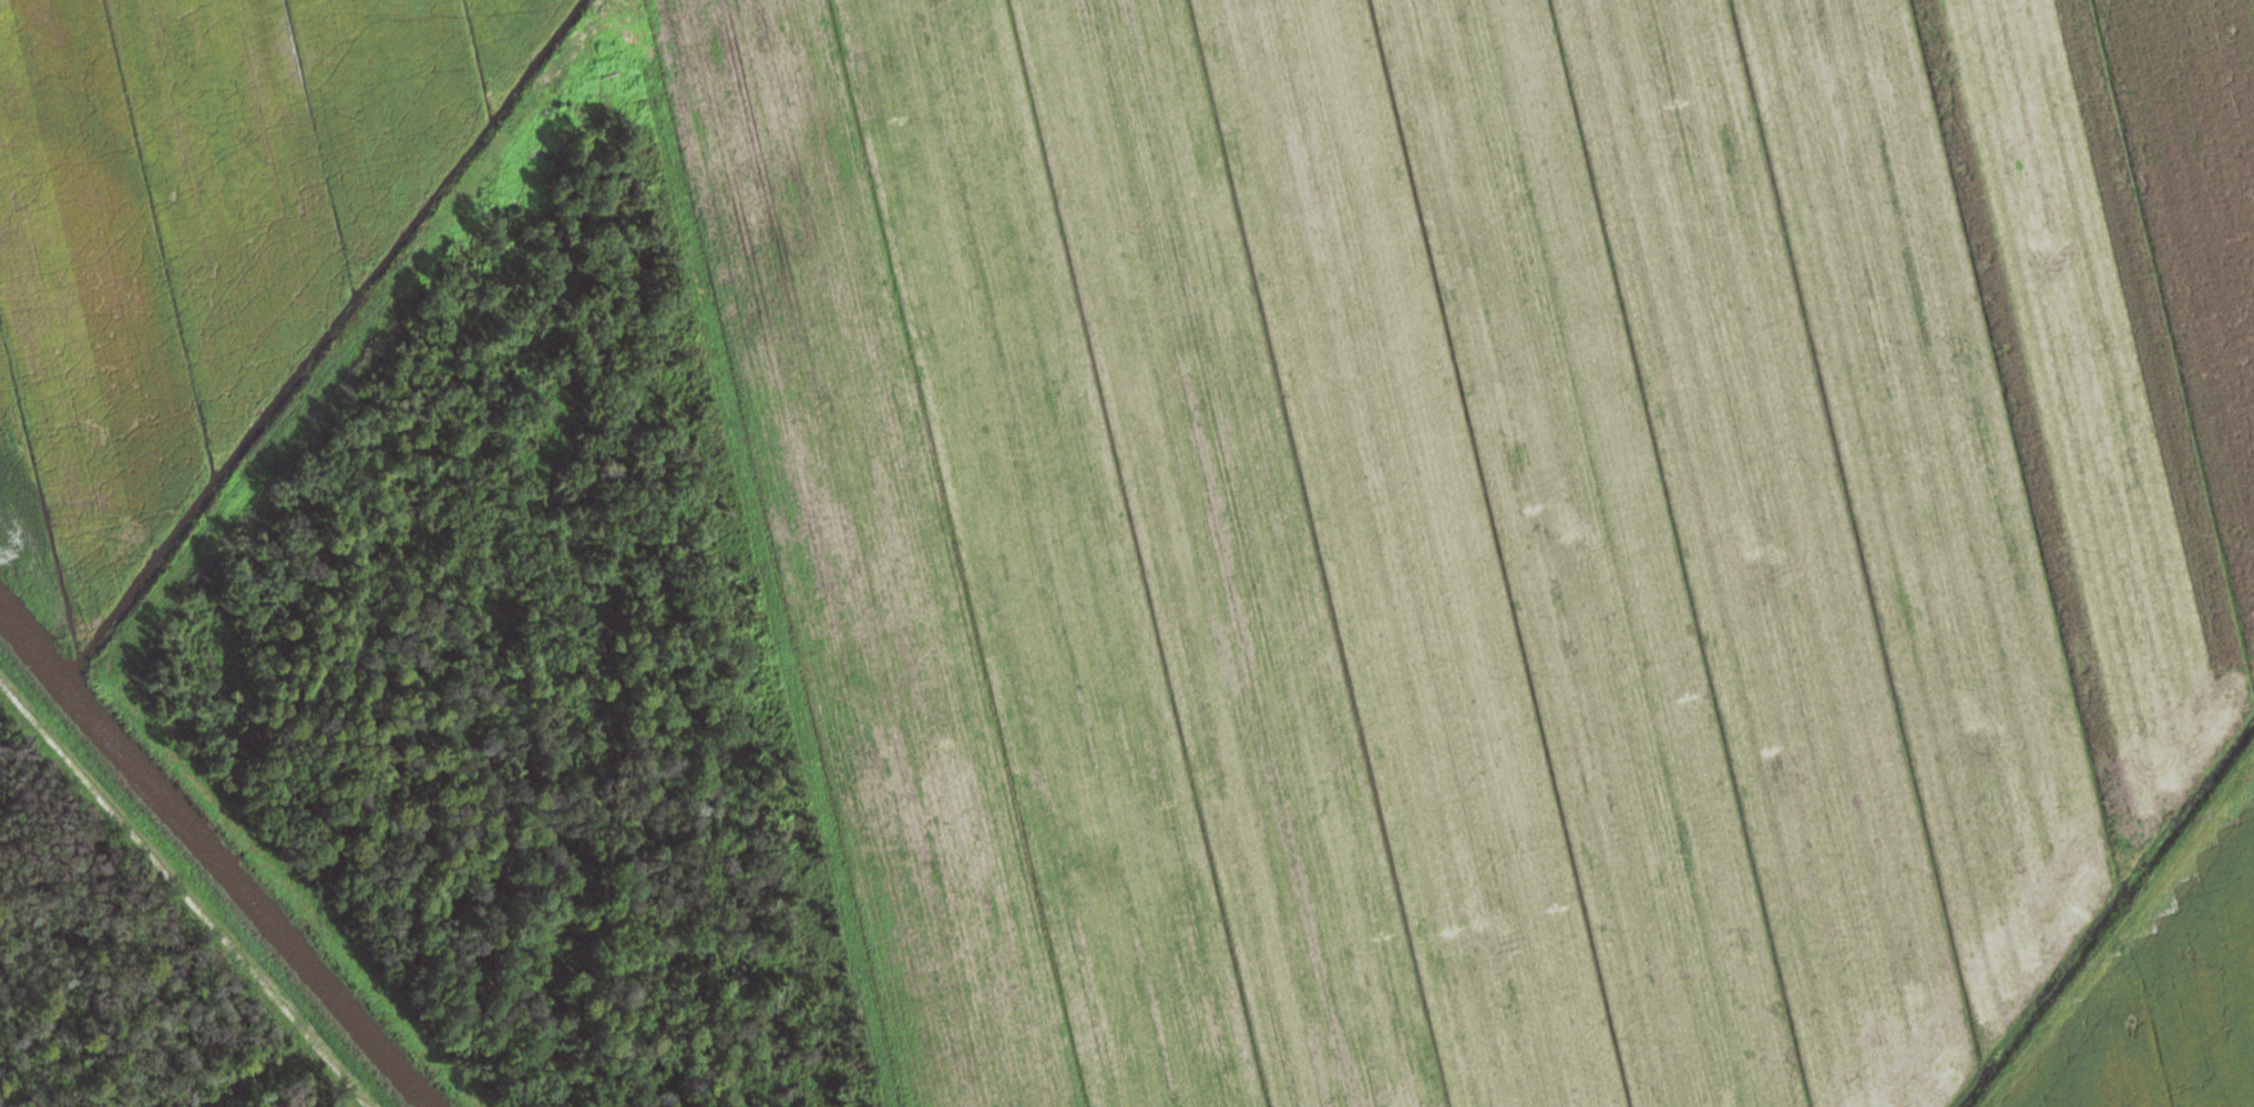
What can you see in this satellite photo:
crop: (197, 238)
crop: (1484, 520)
road: (209, 855)
road: (2117, 927)
crop: (2164, 991)

